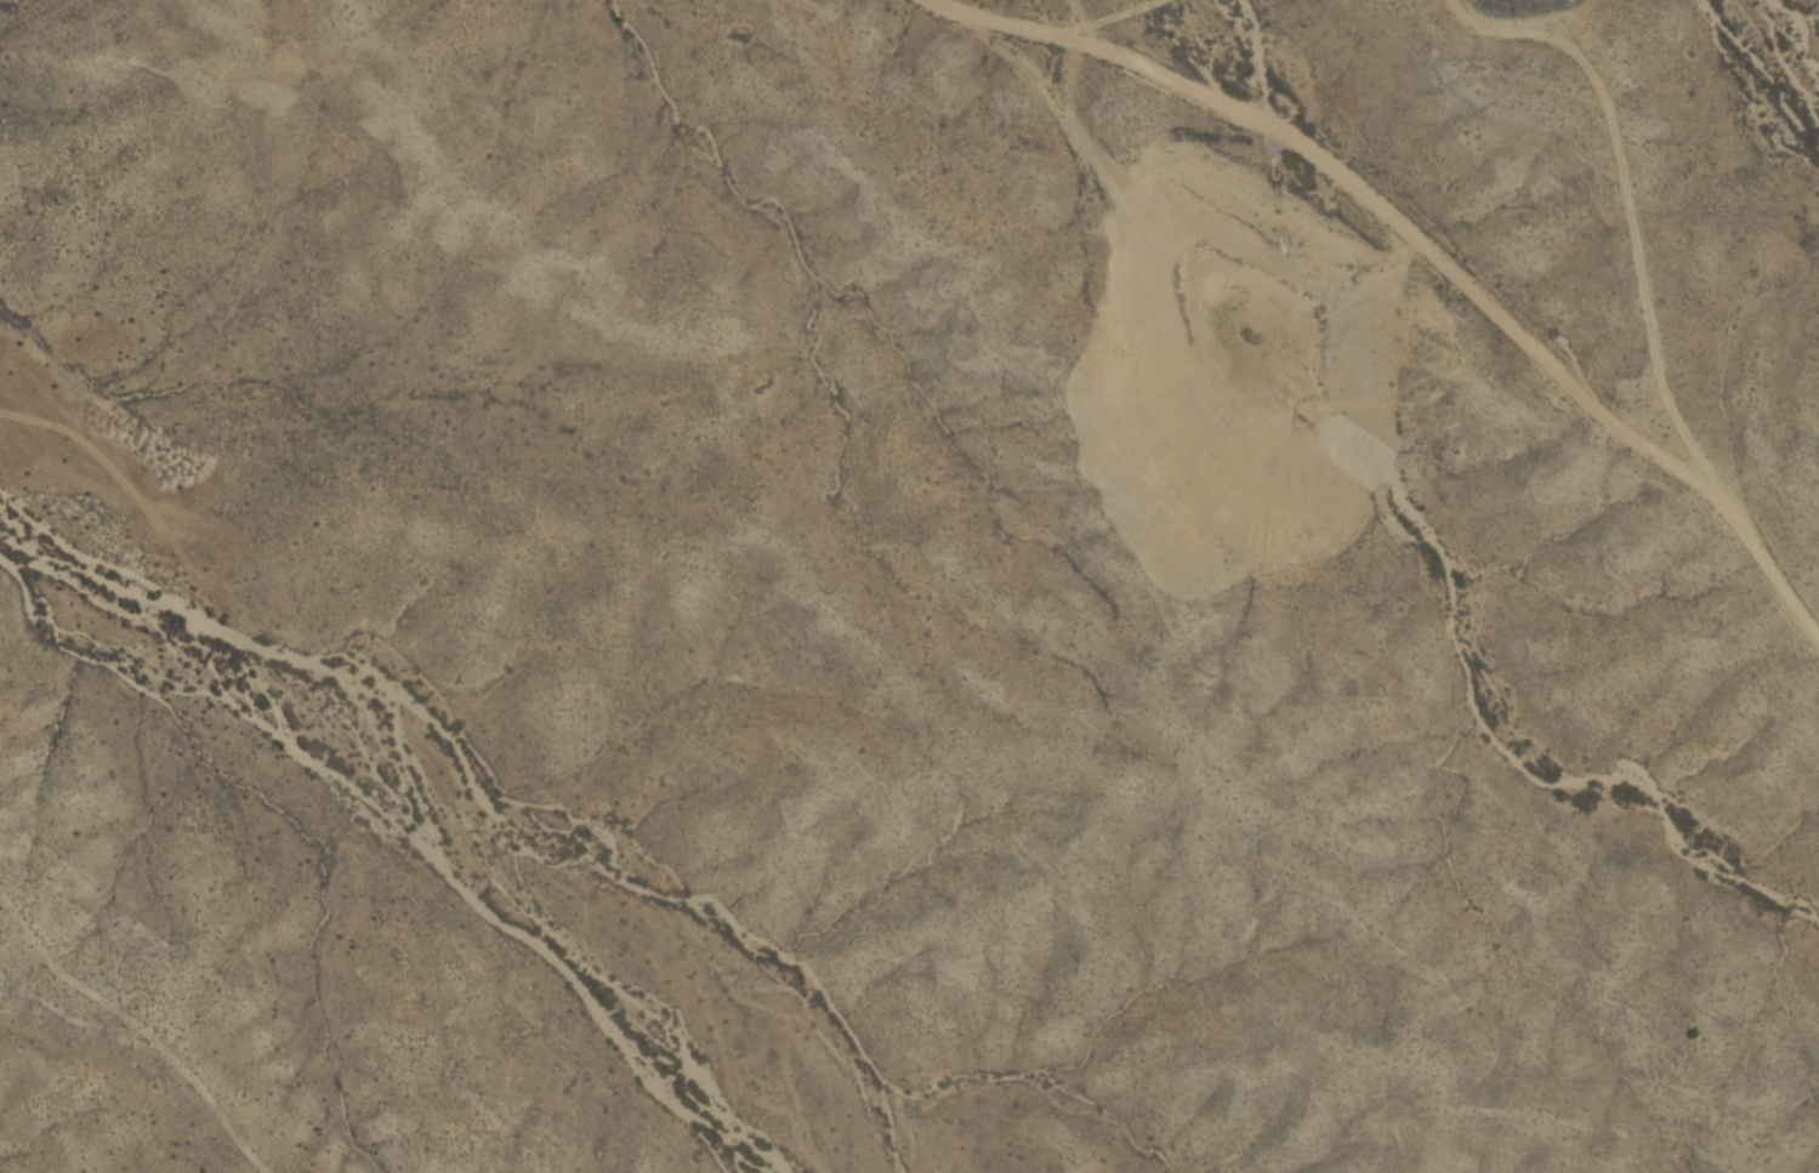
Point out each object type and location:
road: (1118, 16)
road: (1429, 246)
road: (141, 1023)

